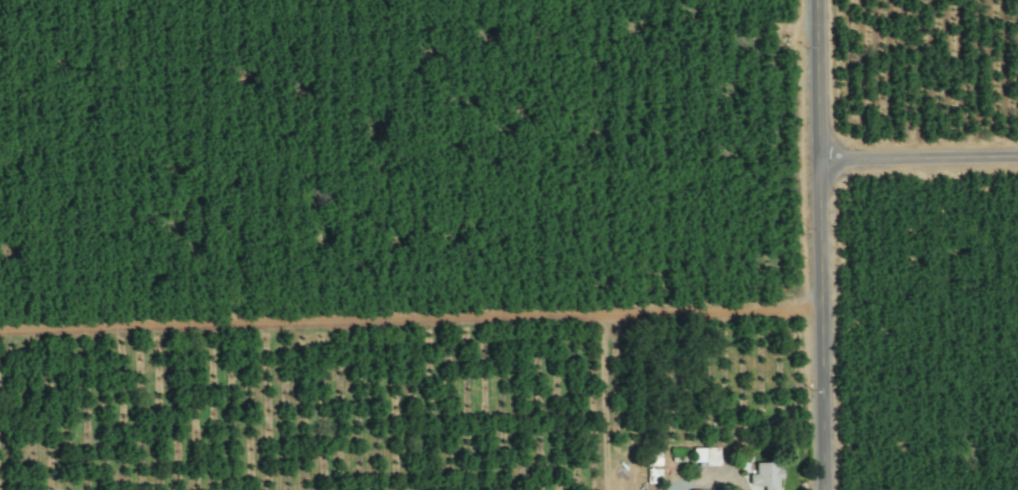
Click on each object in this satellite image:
road: (920, 162)
road: (823, 245)
building: (705, 454)
building: (766, 474)
building: (702, 489)

